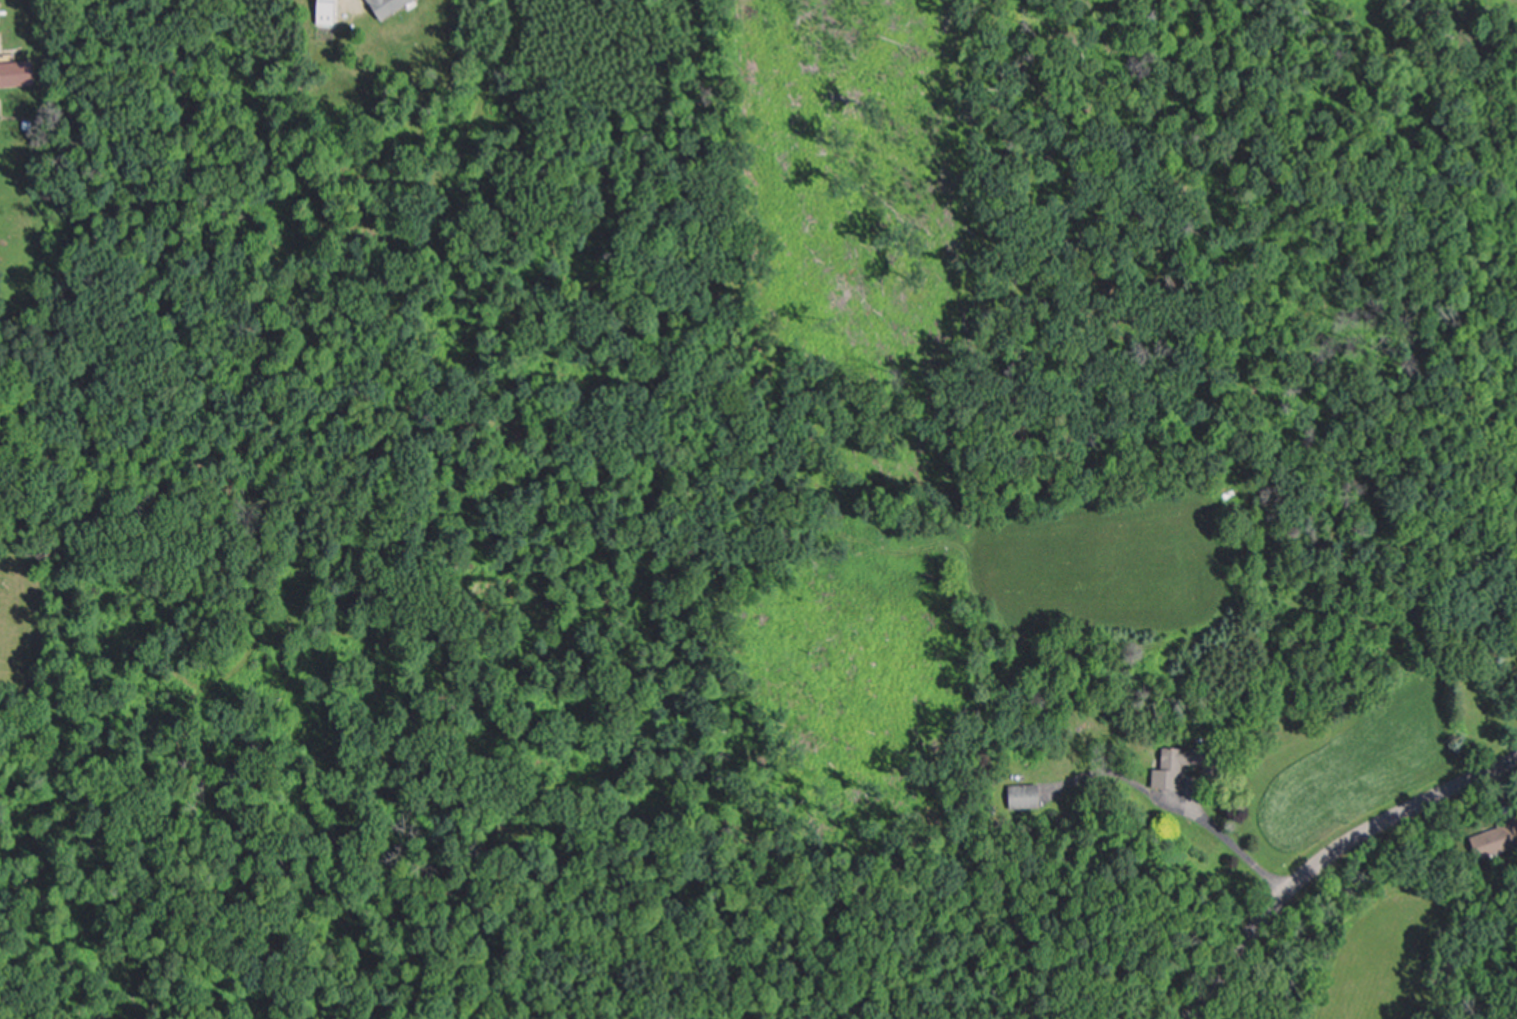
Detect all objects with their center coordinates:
building: (391, 7)
building: (329, 8)
building: (18, 75)
building: (1217, 768)
road: (1479, 778)
building: (1029, 797)
road: (1224, 843)
road: (1295, 885)

